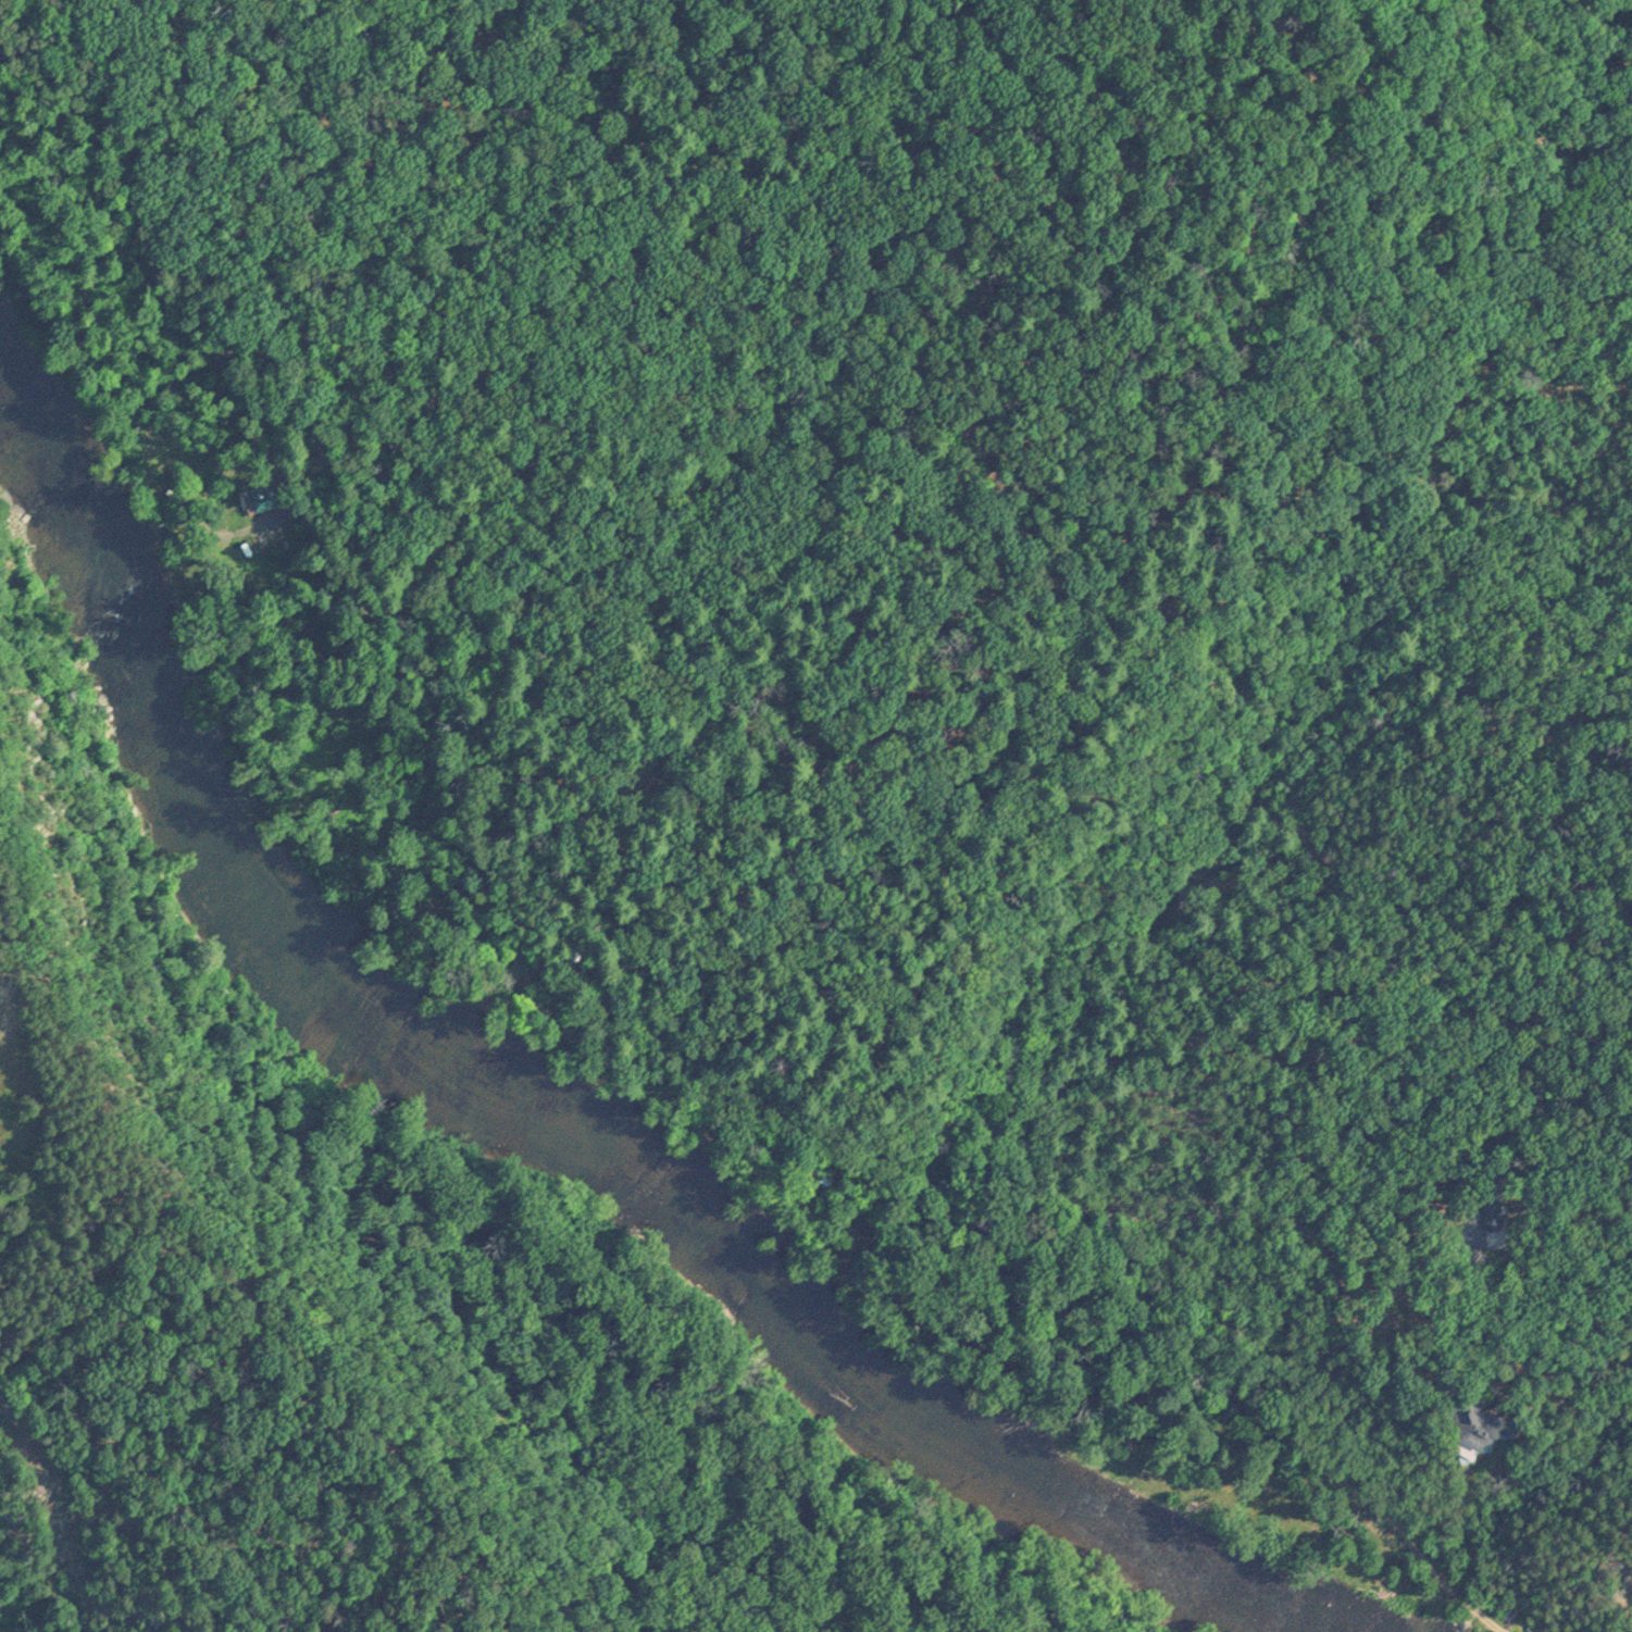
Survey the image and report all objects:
building: (254, 497)
road: (609, 996)
river: (531, 1162)

